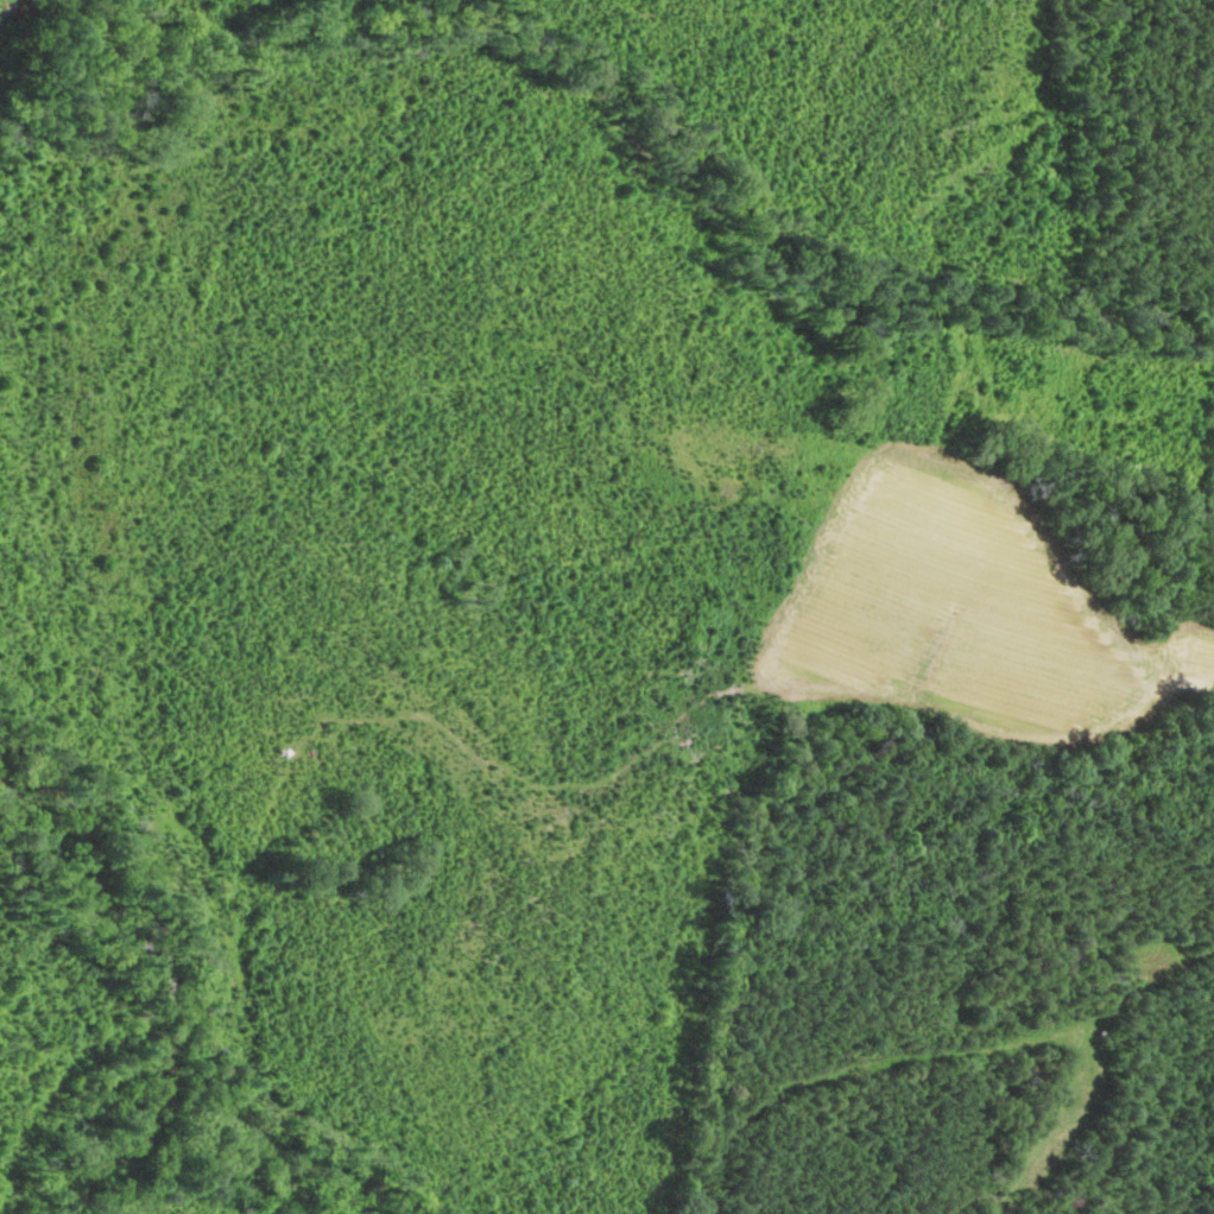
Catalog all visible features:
road: (984, 1028)

